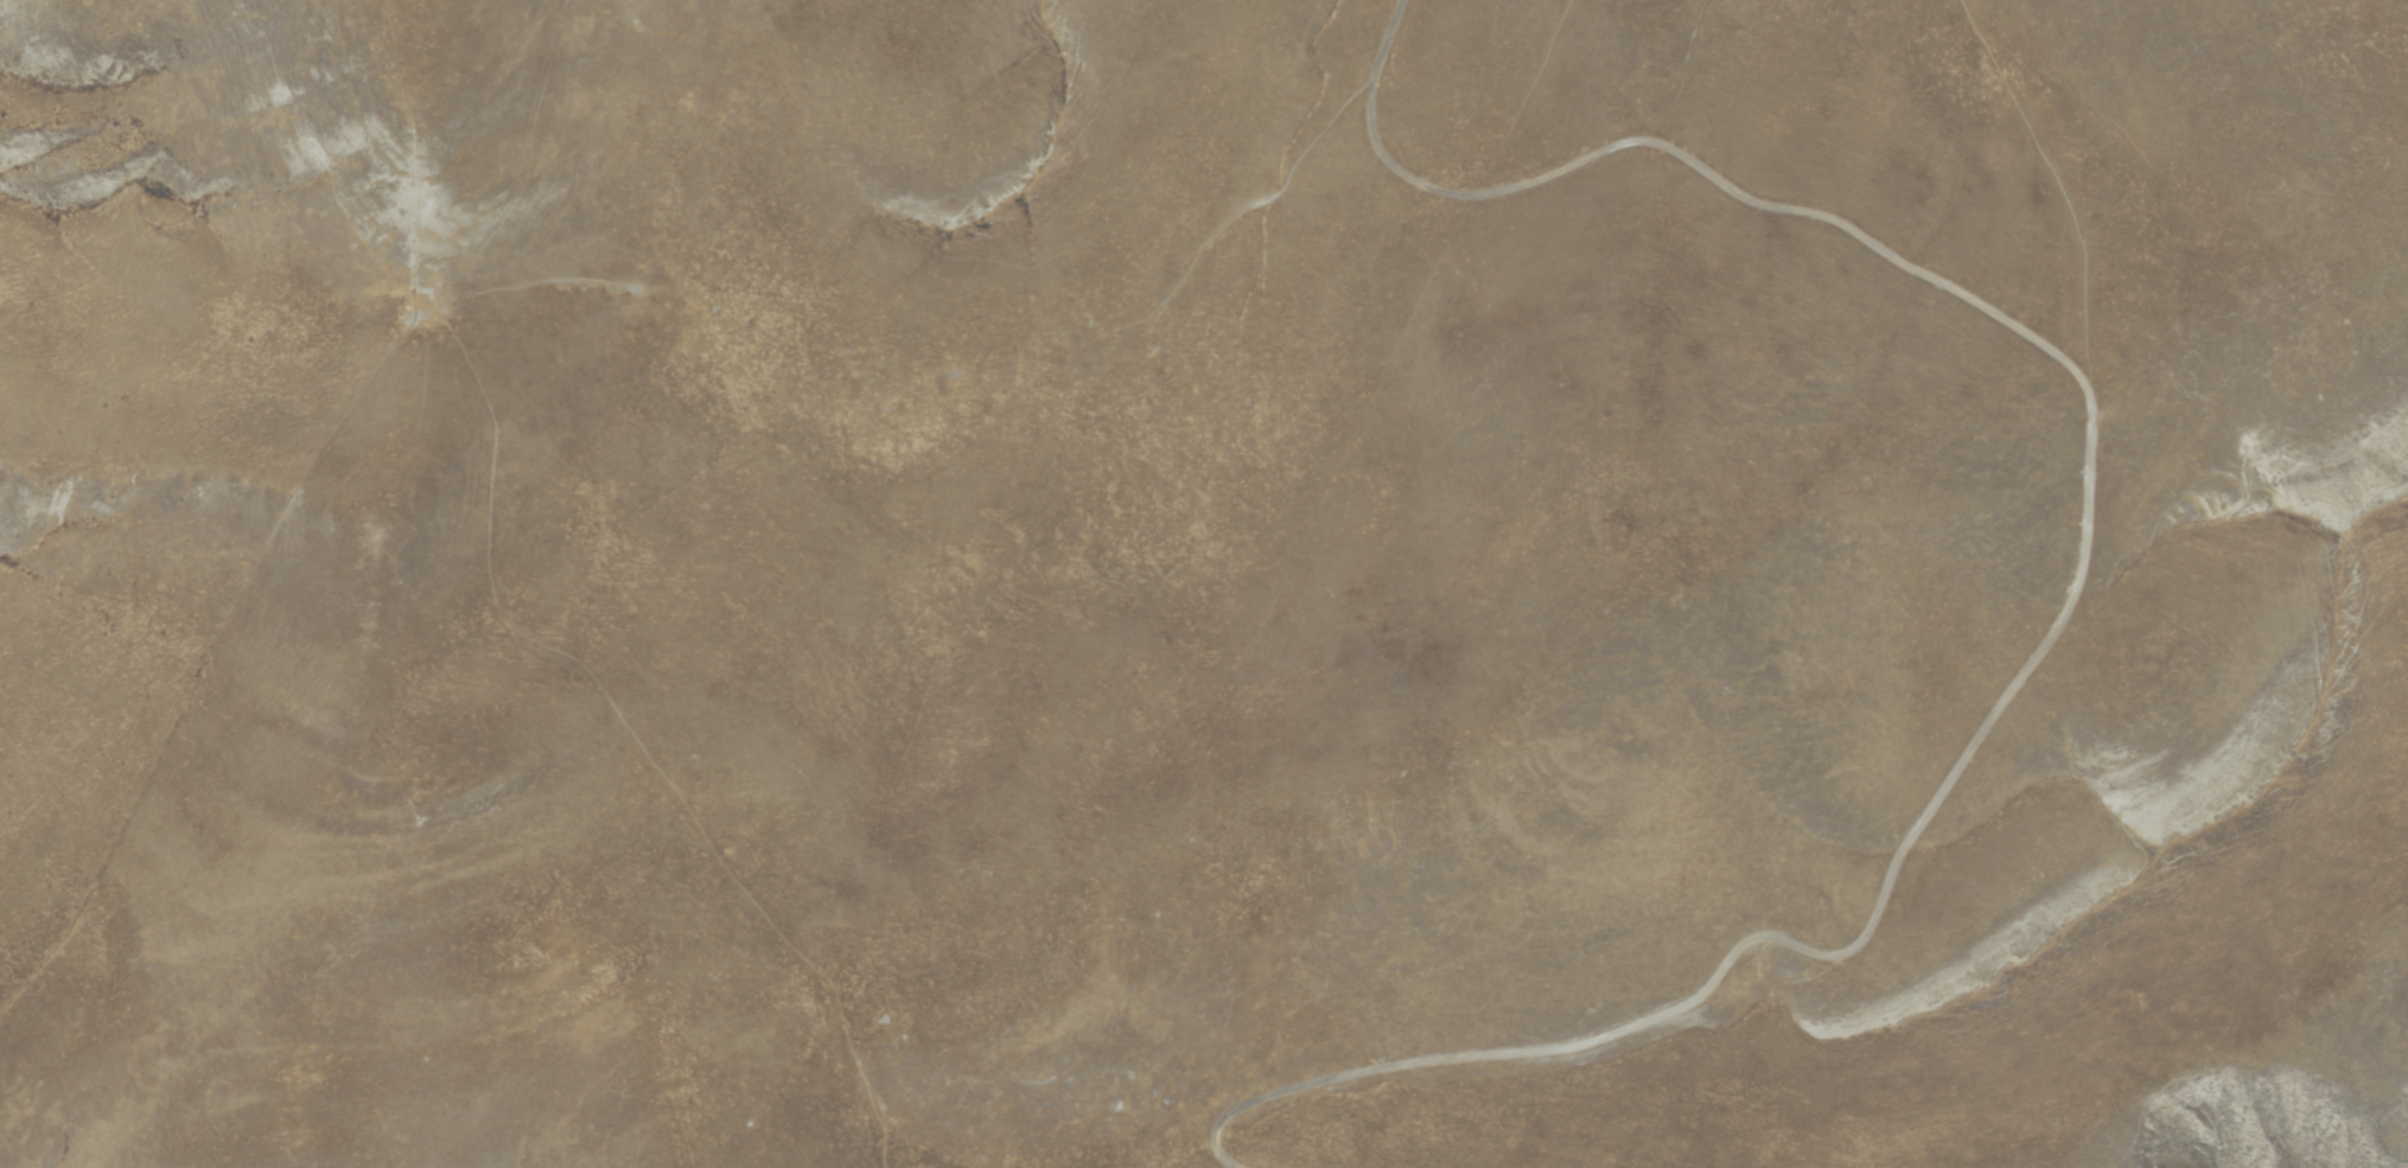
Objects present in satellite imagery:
road: (1466, 1151)

